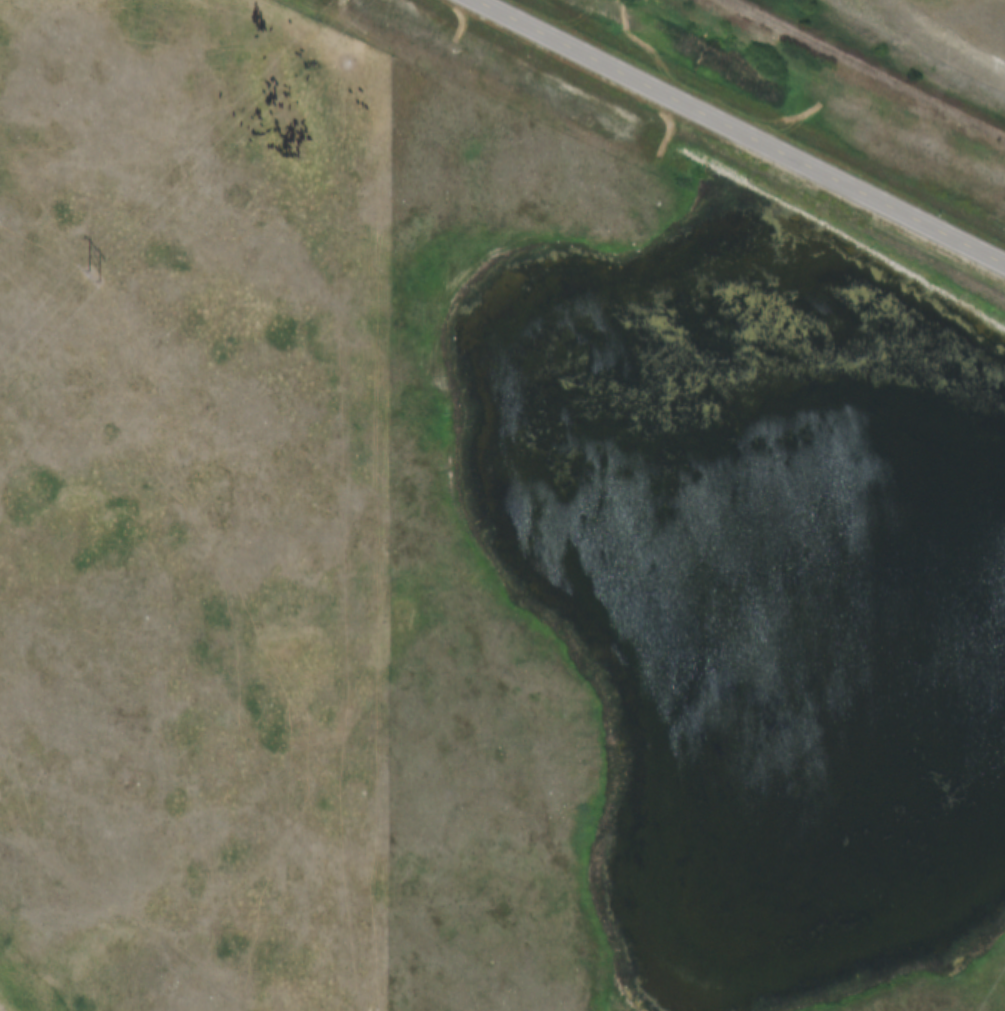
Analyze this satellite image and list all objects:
road: (745, 129)
power tower: (98, 274)

